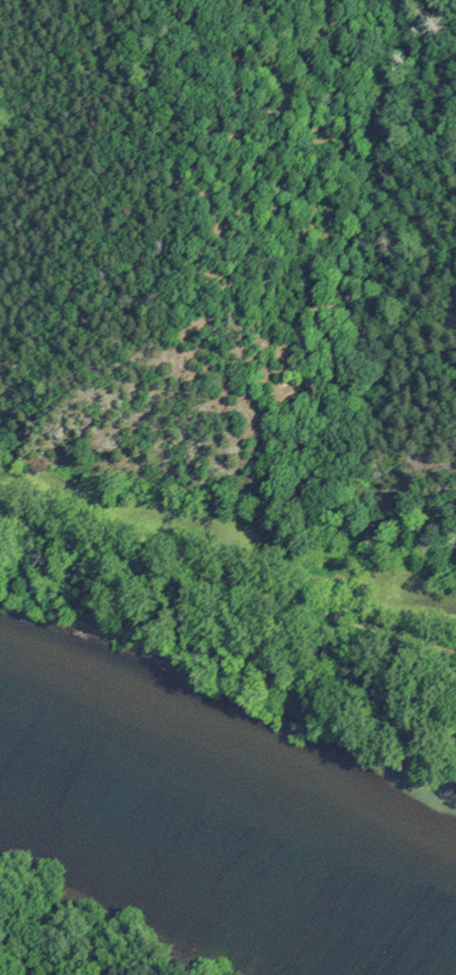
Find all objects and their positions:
road: (227, 586)
river: (226, 823)

